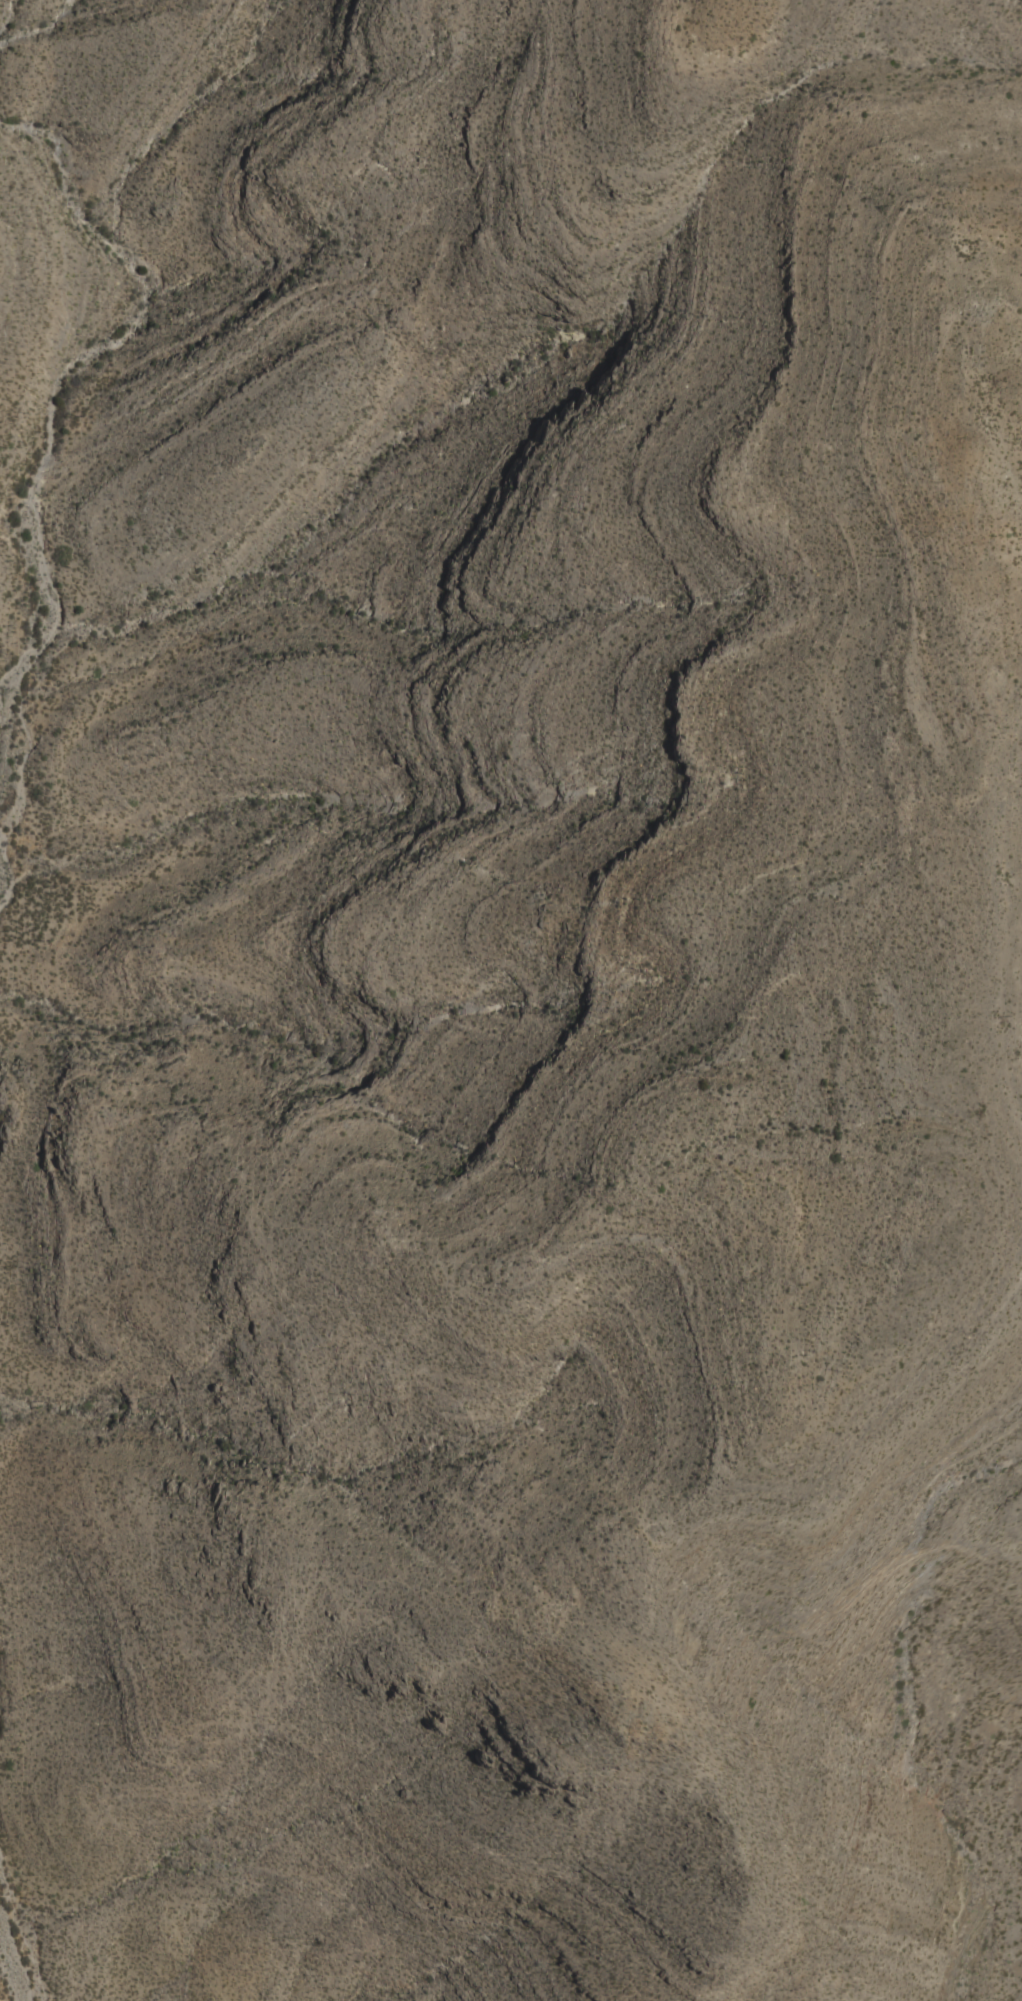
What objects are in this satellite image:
river: (14, 1963)

